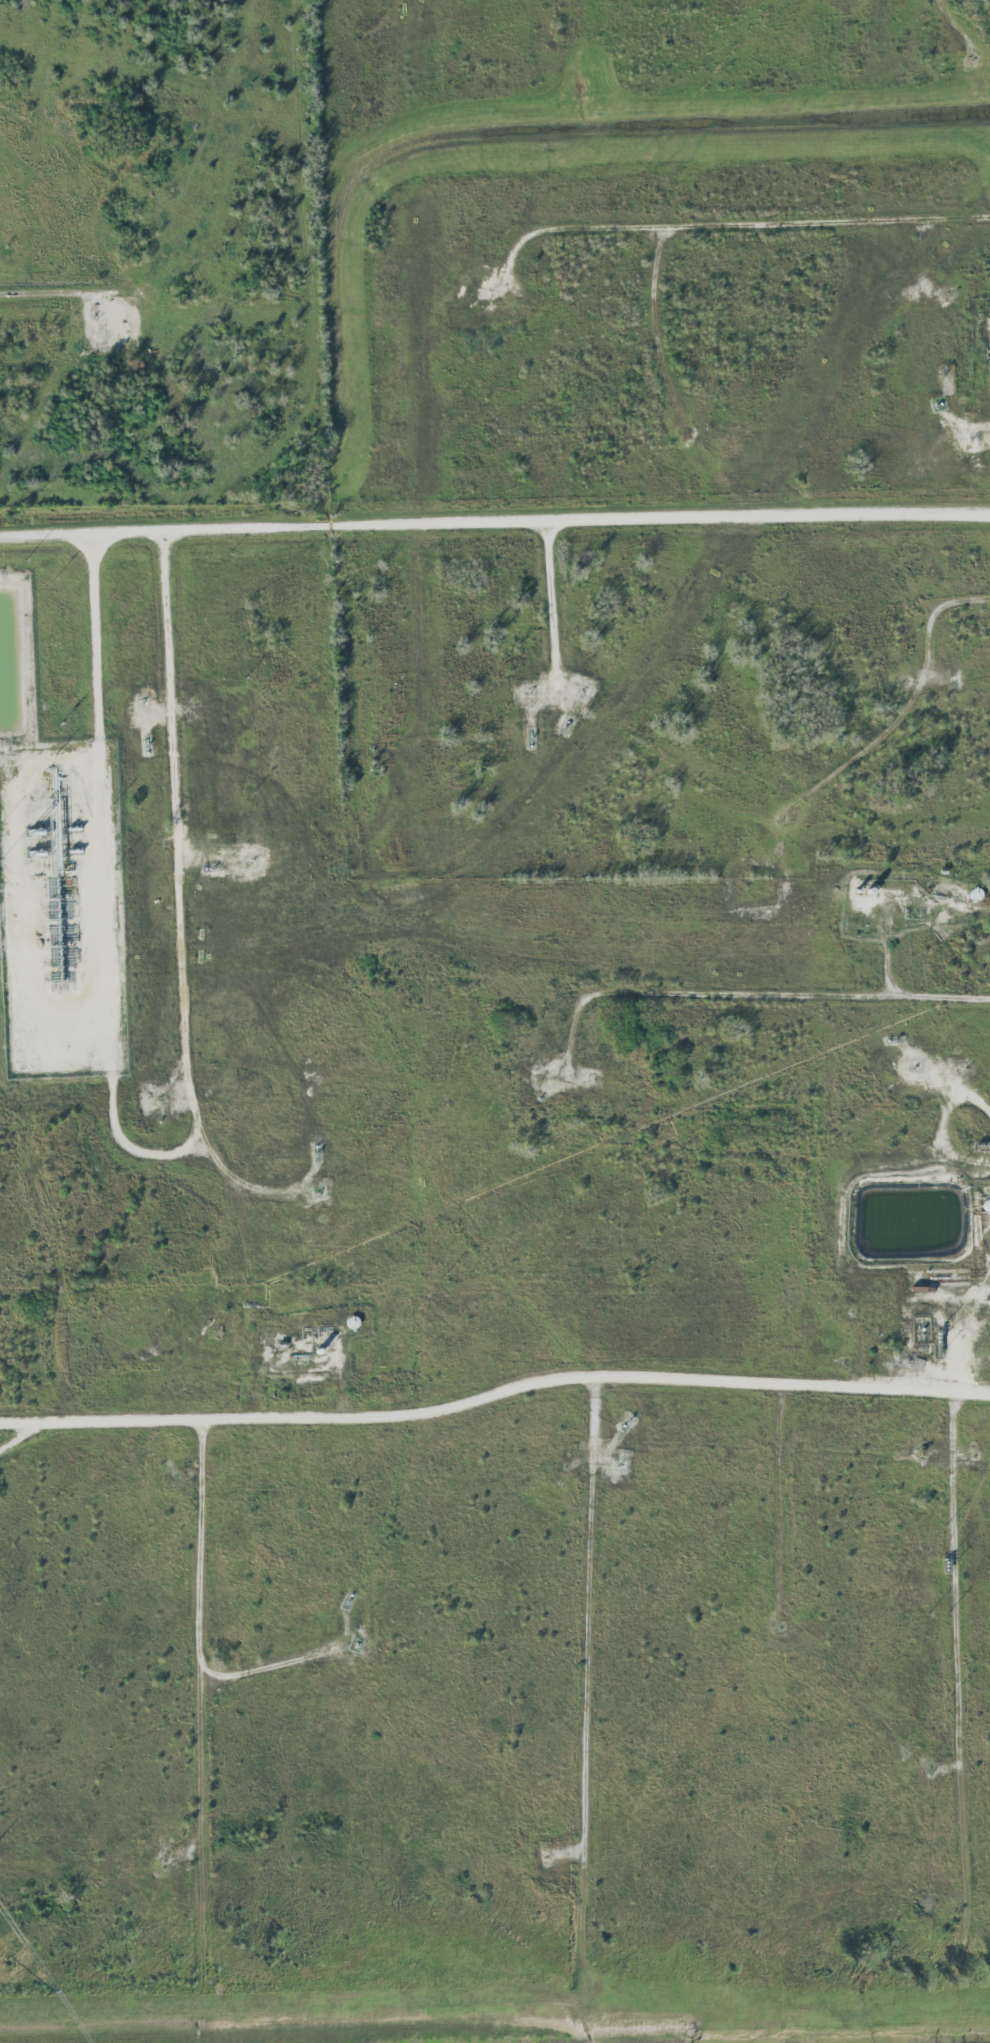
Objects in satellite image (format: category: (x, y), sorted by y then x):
road: (774, 232)
building: (989, 376)
road: (494, 521)
road: (550, 607)
road: (940, 625)
road: (176, 822)
road: (101, 897)
road: (745, 1003)
petroleum well: (896, 1067)
road: (495, 1393)
road: (589, 1610)
road: (199, 1623)
road: (955, 1652)
road: (199, 1771)

